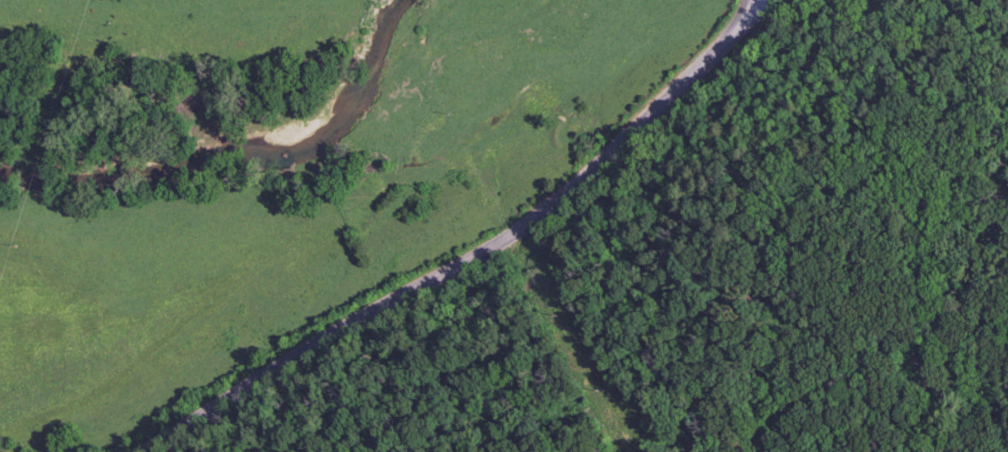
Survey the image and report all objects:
road: (473, 254)

